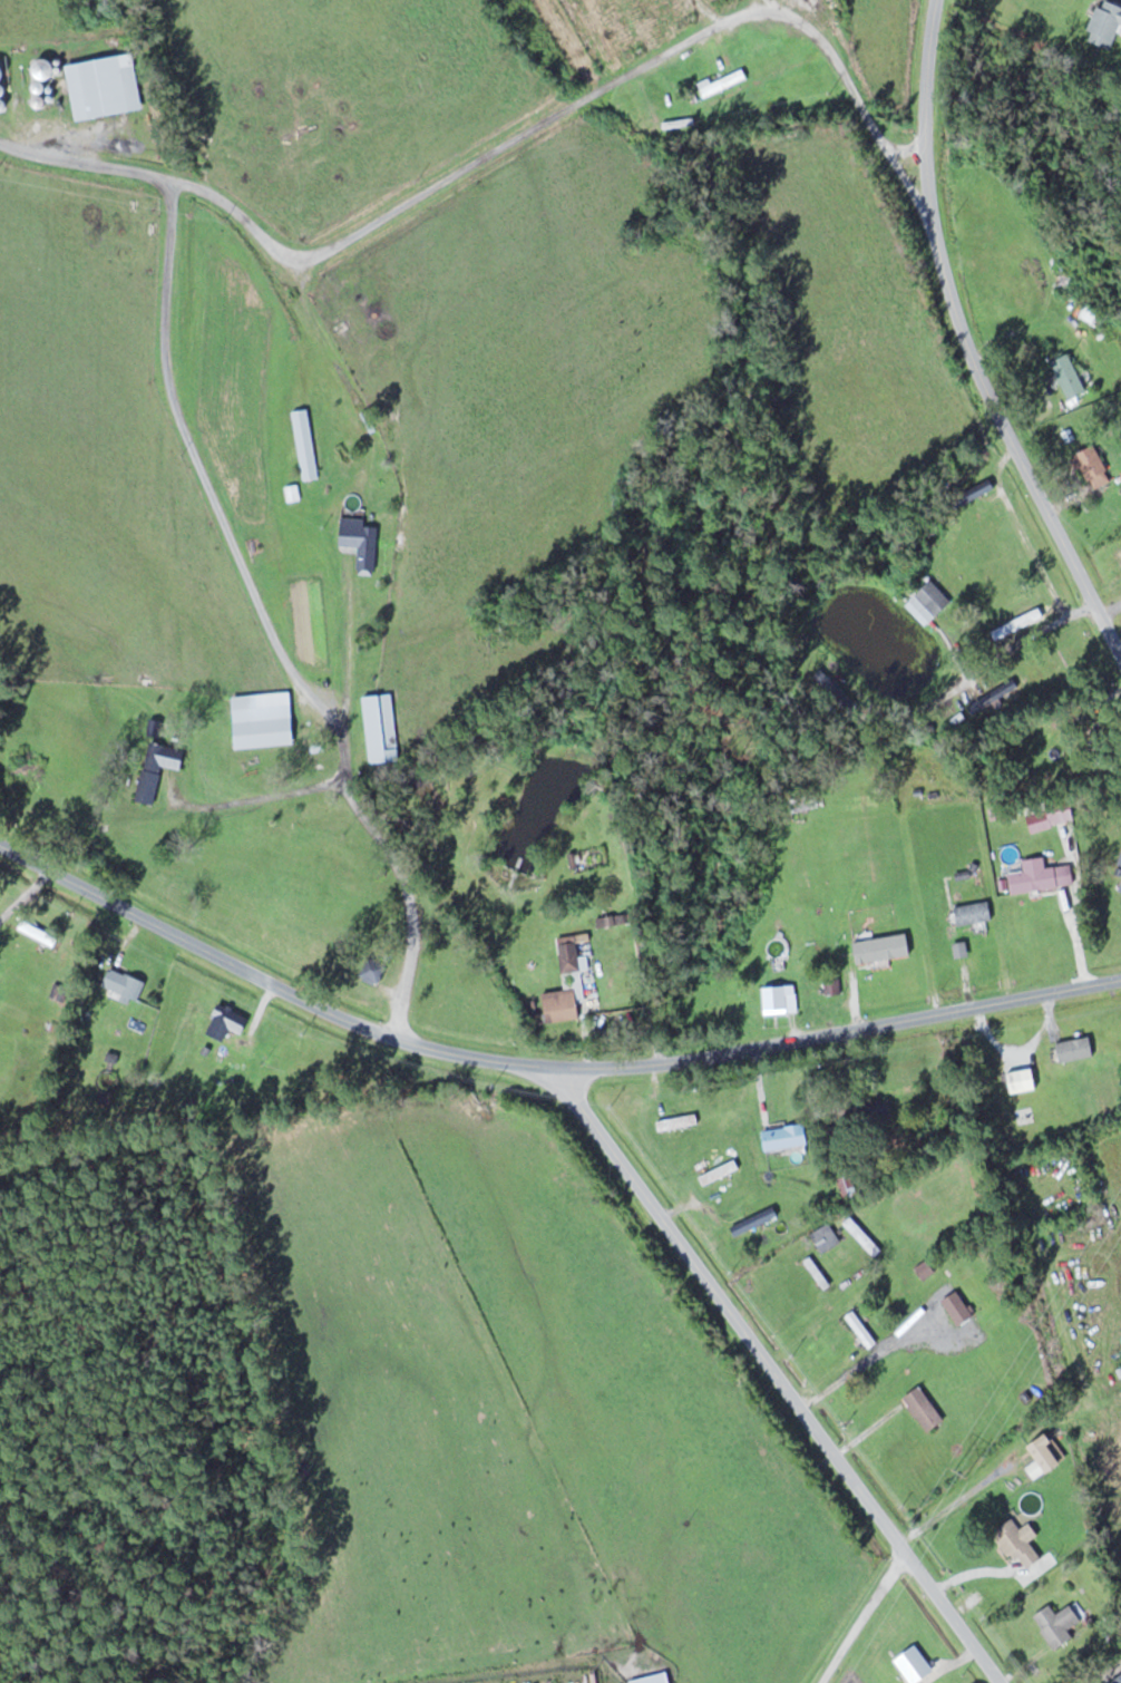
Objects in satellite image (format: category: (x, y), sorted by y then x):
building: (1105, 25)
building: (602, 31)
building: (712, 87)
building: (98, 88)
building: (1089, 313)
road: (966, 342)
building: (1068, 376)
building: (305, 444)
building: (1093, 467)
building: (292, 493)
road: (235, 538)
building: (361, 542)
building: (928, 602)
building: (992, 697)
building: (264, 726)
building: (380, 727)
building: (157, 768)
building: (318, 813)
building: (1051, 815)
building: (1041, 875)
building: (1118, 879)
building: (974, 912)
building: (39, 933)
building: (373, 969)
building: (125, 984)
building: (832, 985)
building: (566, 986)
building: (781, 998)
building: (227, 1021)
road: (540, 1063)
building: (874, 1110)
building: (953, 1126)
building: (786, 1137)
building: (720, 1171)
building: (848, 1184)
building: (908, 1210)
building: (826, 1237)
building: (817, 1272)
building: (958, 1307)
building: (861, 1329)
road: (774, 1374)
building: (925, 1409)
building: (1047, 1452)
power tower: (961, 1472)
building: (1022, 1541)
building: (1059, 1624)
building: (655, 1679)

